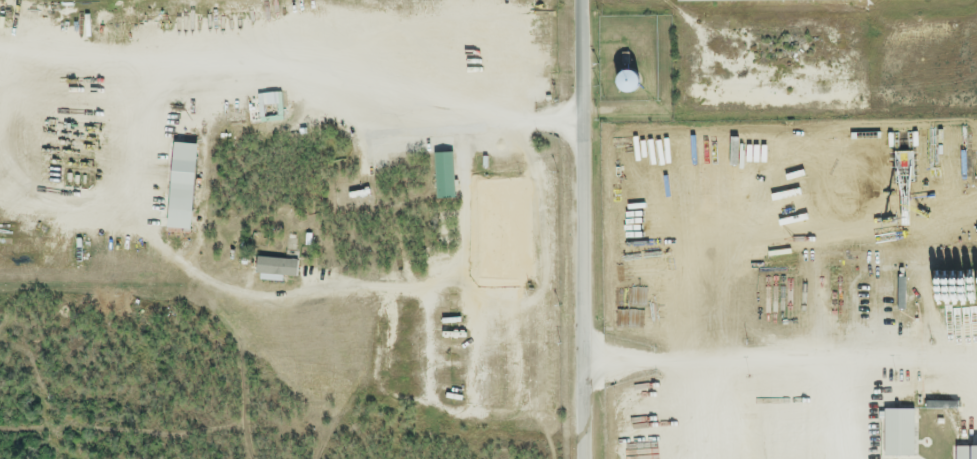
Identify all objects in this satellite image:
building: (713, 0)
building: (788, 1)
road: (63, 57)
road: (583, 60)
building: (622, 83)
road: (125, 165)
building: (350, 198)
road: (532, 220)
road: (586, 289)
road: (781, 363)
road: (707, 410)

